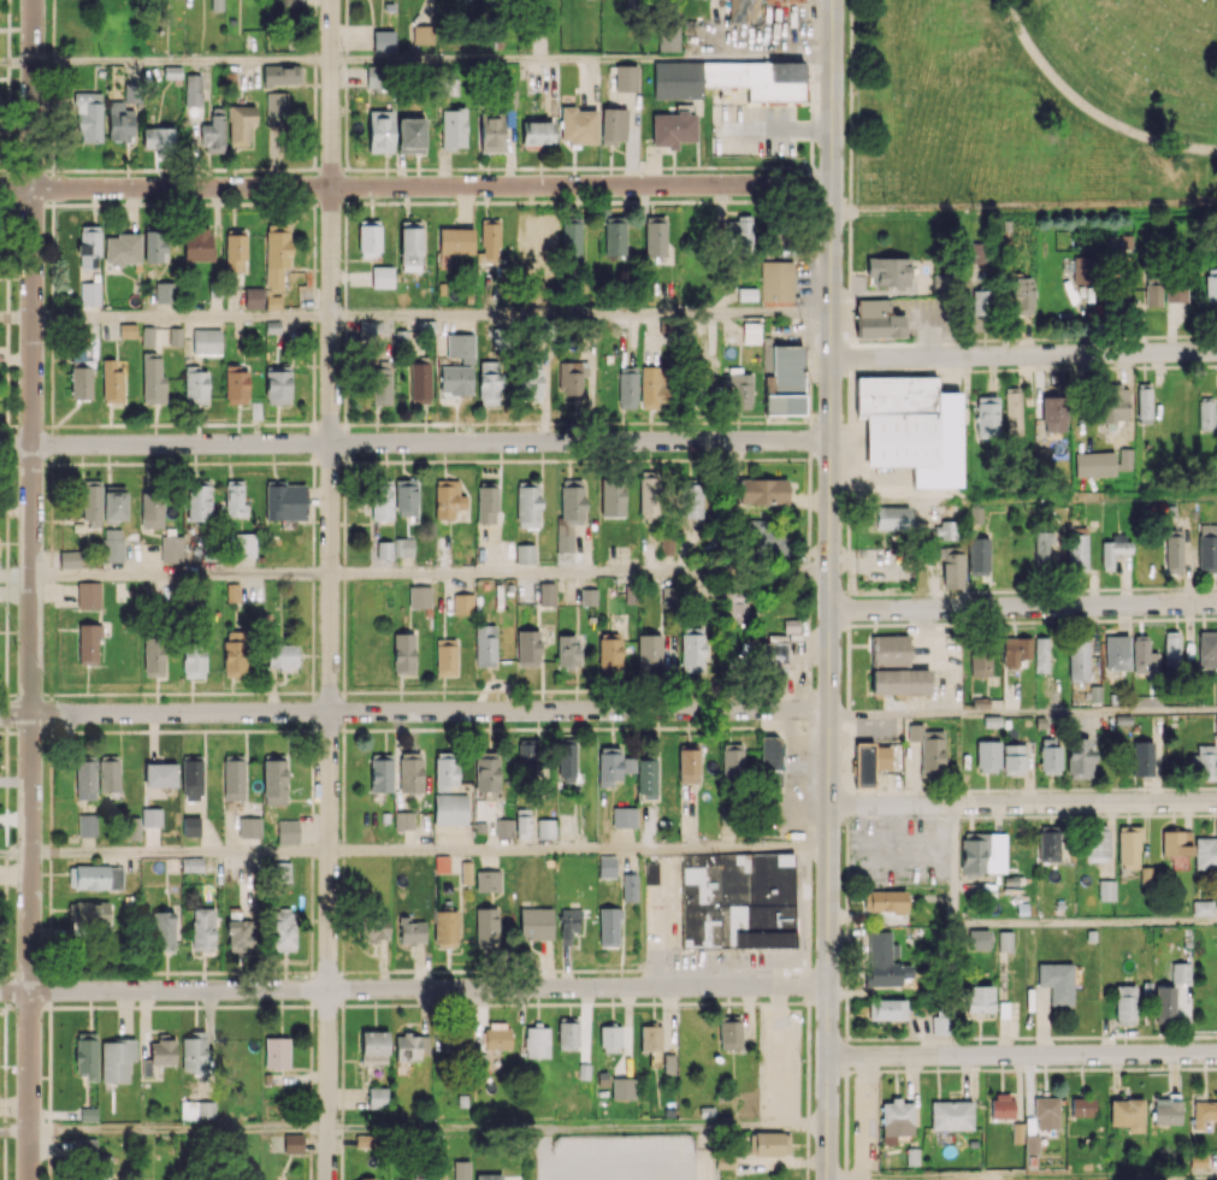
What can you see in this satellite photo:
road: (7, 4)
road: (314, 7)
building: (740, 10)
road: (52, 17)
road: (8, 26)
road: (345, 30)
building: (423, 34)
road: (314, 35)
building: (668, 37)
building: (383, 40)
building: (252, 41)
road: (182, 60)
road: (580, 60)
road: (16, 61)
road: (7, 72)
building: (280, 75)
building: (374, 76)
building: (625, 78)
building: (729, 79)
road: (811, 82)
building: (448, 87)
building: (193, 89)
park: (1033, 99)
road: (52, 101)
road: (1088, 107)
building: (276, 108)
road: (345, 108)
road: (314, 111)
building: (88, 117)
building: (119, 122)
building: (240, 123)
building: (578, 125)
building: (613, 125)
building: (672, 128)
building: (453, 129)
building: (380, 130)
road: (6, 132)
building: (213, 132)
building: (491, 132)
building: (537, 132)
building: (410, 135)
building: (158, 137)
road: (345, 161)
road: (662, 166)
road: (849, 166)
road: (2, 167)
road: (301, 167)
road: (330, 167)
road: (508, 167)
road: (104, 169)
road: (181, 169)
road: (226, 169)
road: (268, 169)
road: (424, 169)
road: (318, 185)
road: (342, 185)
road: (414, 185)
road: (52, 187)
road: (679, 200)
road: (782, 200)
road: (454, 201)
road: (578, 201)
road: (175, 202)
road: (207, 202)
road: (226, 202)
road: (244, 202)
road: (280, 202)
road: (311, 202)
road: (354, 202)
road: (101, 203)
road: (347, 203)
road: (4, 207)
road: (1023, 207)
road: (345, 210)
road: (52, 220)
road: (815, 224)
building: (738, 235)
building: (571, 236)
building: (614, 236)
building: (655, 236)
building: (368, 238)
road: (7, 240)
building: (542, 241)
building: (197, 243)
building: (453, 244)
building: (489, 244)
building: (88, 246)
building: (154, 246)
building: (410, 246)
building: (122, 248)
building: (235, 252)
building: (277, 253)
building: (976, 254)
road: (313, 261)
building: (1083, 270)
building: (888, 271)
road: (344, 276)
building: (380, 276)
building: (776, 281)
building: (1176, 290)
building: (1210, 291)
road: (52, 293)
building: (164, 293)
building: (89, 294)
building: (1153, 294)
building: (1021, 295)
building: (1118, 295)
building: (253, 297)
building: (980, 301)
building: (272, 302)
road: (580, 314)
road: (182, 317)
road: (16, 318)
building: (878, 320)
building: (544, 329)
building: (126, 330)
building: (750, 332)
road: (815, 335)
building: (147, 336)
building: (175, 336)
road: (313, 336)
building: (206, 341)
building: (460, 347)
road: (7, 348)
road: (1023, 355)
road: (344, 364)
building: (152, 379)
building: (455, 379)
building: (569, 379)
building: (784, 380)
building: (81, 382)
building: (111, 382)
building: (419, 383)
building: (489, 383)
building: (277, 384)
building: (530, 384)
building: (195, 385)
building: (236, 385)
building: (380, 385)
road: (313, 387)
building: (651, 387)
building: (738, 388)
road: (51, 389)
building: (627, 389)
building: (1144, 402)
building: (1115, 403)
road: (344, 407)
building: (1012, 411)
building: (1053, 413)
building: (1205, 414)
building: (986, 415)
road: (767, 420)
road: (562, 421)
road: (633, 421)
road: (692, 421)
road: (255, 423)
road: (431, 423)
road: (111, 424)
road: (187, 424)
road: (327, 424)
road: (4, 425)
road: (29, 425)
building: (911, 427)
road: (813, 437)
road: (314, 441)
road: (342, 441)
road: (414, 442)
road: (51, 444)
road: (327, 458)
road: (604, 459)
road: (662, 459)
road: (709, 459)
road: (769, 459)
building: (1124, 459)
road: (459, 460)
road: (247, 461)
road: (51, 462)
road: (165, 462)
road: (343, 462)
road: (2, 464)
road: (67, 464)
road: (95, 464)
road: (128, 464)
building: (1094, 464)
road: (313, 473)
road: (51, 488)
road: (343, 488)
road: (6, 490)
building: (762, 491)
building: (649, 492)
road: (313, 495)
building: (613, 496)
building: (406, 497)
road: (1023, 497)
building: (235, 498)
building: (448, 498)
building: (382, 500)
building: (572, 500)
building: (690, 500)
building: (197, 501)
building: (284, 501)
building: (486, 502)
building: (90, 503)
building: (113, 503)
building: (148, 503)
building: (527, 507)
road: (313, 517)
building: (891, 517)
building: (945, 530)
building: (565, 537)
building: (766, 538)
road: (313, 541)
building: (112, 544)
building: (243, 544)
building: (402, 547)
building: (170, 549)
building: (1048, 549)
building: (1113, 549)
building: (384, 550)
building: (1174, 550)
building: (525, 553)
building: (1077, 553)
building: (1207, 554)
building: (977, 555)
building: (69, 559)
building: (951, 567)
road: (579, 573)
road: (808, 576)
road: (14, 577)
road: (181, 577)
road: (31, 590)
road: (330, 590)
road: (829, 590)
building: (232, 591)
building: (547, 594)
building: (88, 595)
building: (419, 596)
building: (587, 596)
building: (668, 596)
road: (343, 597)
building: (462, 603)
road: (6, 606)
building: (733, 606)
road: (1023, 606)
road: (51, 619)
road: (312, 621)
building: (88, 643)
building: (485, 645)
building: (1171, 645)
building: (527, 649)
building: (891, 649)
building: (1206, 649)
building: (567, 650)
building: (649, 650)
building: (772, 650)
building: (692, 651)
building: (1015, 651)
building: (609, 653)
building: (1116, 653)
building: (403, 654)
building: (1040, 654)
building: (154, 656)
building: (280, 656)
building: (445, 656)
building: (1142, 656)
building: (234, 659)
building: (1077, 659)
building: (193, 660)
building: (980, 663)
building: (900, 682)
road: (680, 689)
road: (788, 689)
road: (424, 690)
road: (537, 690)
road: (578, 690)
road: (181, 692)
road: (2, 694)
road: (809, 706)
road: (342, 709)
road: (315, 710)
road: (414, 710)
road: (1022, 713)
road: (6, 714)
road: (766, 726)
road: (553, 727)
road: (583, 727)
road: (644, 727)
road: (710, 727)
building: (1216, 727)
road: (395, 728)
road: (490, 728)
road: (100, 730)
road: (206, 730)
road: (286, 730)
road: (2, 732)
road: (312, 742)
building: (927, 745)
building: (526, 751)
building: (987, 756)
building: (1048, 756)
building: (1079, 757)
building: (1012, 759)
building: (1142, 759)
building: (567, 760)
building: (769, 760)
building: (732, 761)
building: (1204, 761)
building: (869, 762)
building: (609, 765)
building: (628, 765)
building: (687, 765)
road: (49, 768)
building: (445, 771)
building: (380, 772)
building: (409, 772)
building: (108, 773)
building: (160, 774)
building: (486, 774)
building: (646, 777)
building: (191, 778)
building: (232, 778)
building: (85, 779)
building: (273, 781)
building: (253, 784)
road: (342, 802)
road: (1023, 803)
building: (450, 809)
building: (150, 816)
building: (624, 816)
building: (403, 820)
building: (522, 821)
building: (87, 825)
building: (190, 826)
building: (132, 827)
building: (249, 827)
building: (503, 827)
building: (545, 828)
building: (286, 831)
road: (6, 840)
road: (49, 842)
building: (1048, 842)
building: (1176, 843)
building: (1095, 844)
road: (808, 846)
building: (1128, 846)
road: (178, 850)
road: (579, 850)
road: (13, 851)
building: (982, 852)
building: (1205, 852)
road: (311, 862)
road: (955, 863)
building: (191, 865)
building: (605, 866)
building: (280, 872)
building: (1146, 875)
building: (95, 877)
building: (486, 880)
building: (628, 886)
building: (1106, 890)
building: (737, 901)
building: (884, 901)
road: (342, 905)
building: (1201, 908)
building: (90, 913)
road: (1086, 921)
building: (536, 924)
building: (568, 924)
road: (48, 925)
building: (485, 927)
building: (608, 927)
building: (202, 928)
building: (445, 928)
building: (283, 930)
building: (374, 930)
building: (163, 931)
building: (410, 931)
road: (5, 934)
building: (240, 936)
building: (977, 938)
building: (1005, 940)
road: (342, 954)
building: (884, 961)
road: (669, 969)
road: (359, 970)
road: (395, 970)
road: (442, 970)
road: (501, 970)
road: (120, 972)
road: (134, 972)
road: (185, 972)
road: (259, 972)
road: (300, 972)
building: (1181, 972)
road: (2, 973)
road: (60, 973)
road: (84, 973)
road: (106, 973)
road: (326, 973)
building: (1056, 981)
road: (808, 984)
road: (413, 989)
road: (956, 990)
building: (979, 998)
road: (761, 1002)
road: (25, 1003)
road: (325, 1003)
road: (569, 1003)
road: (640, 1003)
road: (680, 1003)
road: (709, 1003)
road: (384, 1004)
road: (447, 1004)
road: (480, 1004)
road: (506, 1004)
building: (1124, 1004)
building: (1164, 1004)
road: (152, 1005)
road: (280, 1005)
road: (1, 1008)
building: (886, 1009)
building: (939, 1025)
building: (729, 1032)
building: (496, 1036)
building: (567, 1036)
building: (609, 1038)
building: (650, 1038)
building: (454, 1042)
building: (536, 1042)
building: (373, 1046)
building: (412, 1046)
road: (311, 1049)
building: (163, 1051)
building: (194, 1052)
building: (276, 1052)
building: (87, 1055)
road: (1022, 1055)
building: (116, 1060)
building: (622, 1088)
road: (807, 1091)
road: (5, 1093)
road: (49, 1093)
road: (341, 1093)
building: (377, 1097)
road: (311, 1104)
building: (1002, 1105)
building: (1081, 1107)
building: (197, 1110)
building: (1046, 1111)
building: (897, 1113)
building: (1203, 1113)
building: (88, 1114)
building: (1127, 1114)
building: (951, 1115)
road: (577, 1126)
road: (177, 1129)
road: (13, 1132)
building: (1017, 1132)
building: (293, 1143)
building: (772, 1143)
building: (1032, 1143)
building: (85, 1146)
road: (309, 1150)
building: (1197, 1161)
building: (723, 1162)
building: (461, 1169)
road: (1022, 1175)
building: (488, 1176)
building: (355, 1179)

